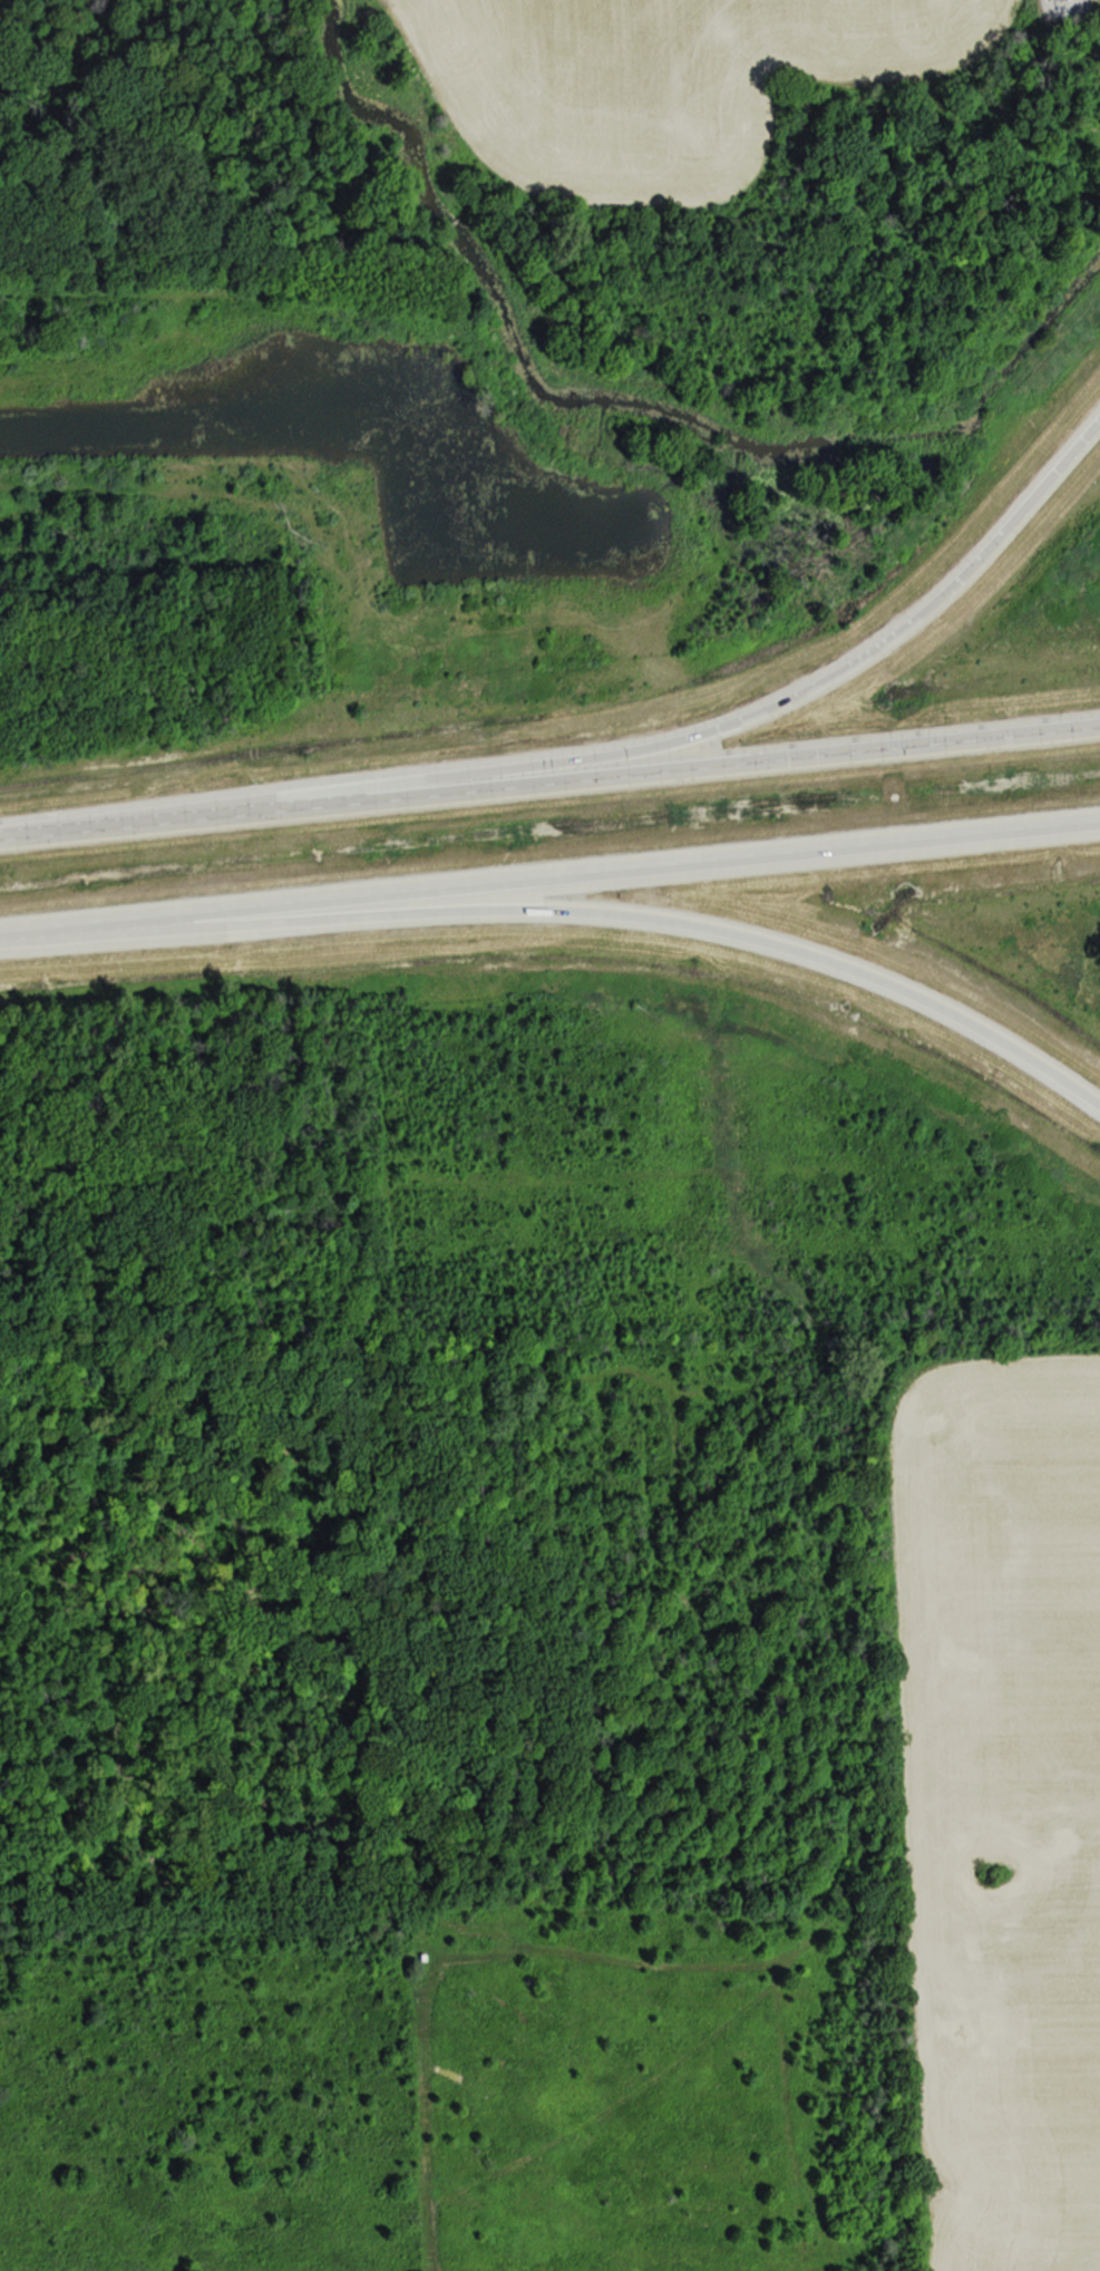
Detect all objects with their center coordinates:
river: (616, 424)
road: (741, 719)
road: (549, 779)
road: (549, 877)
road: (572, 912)

